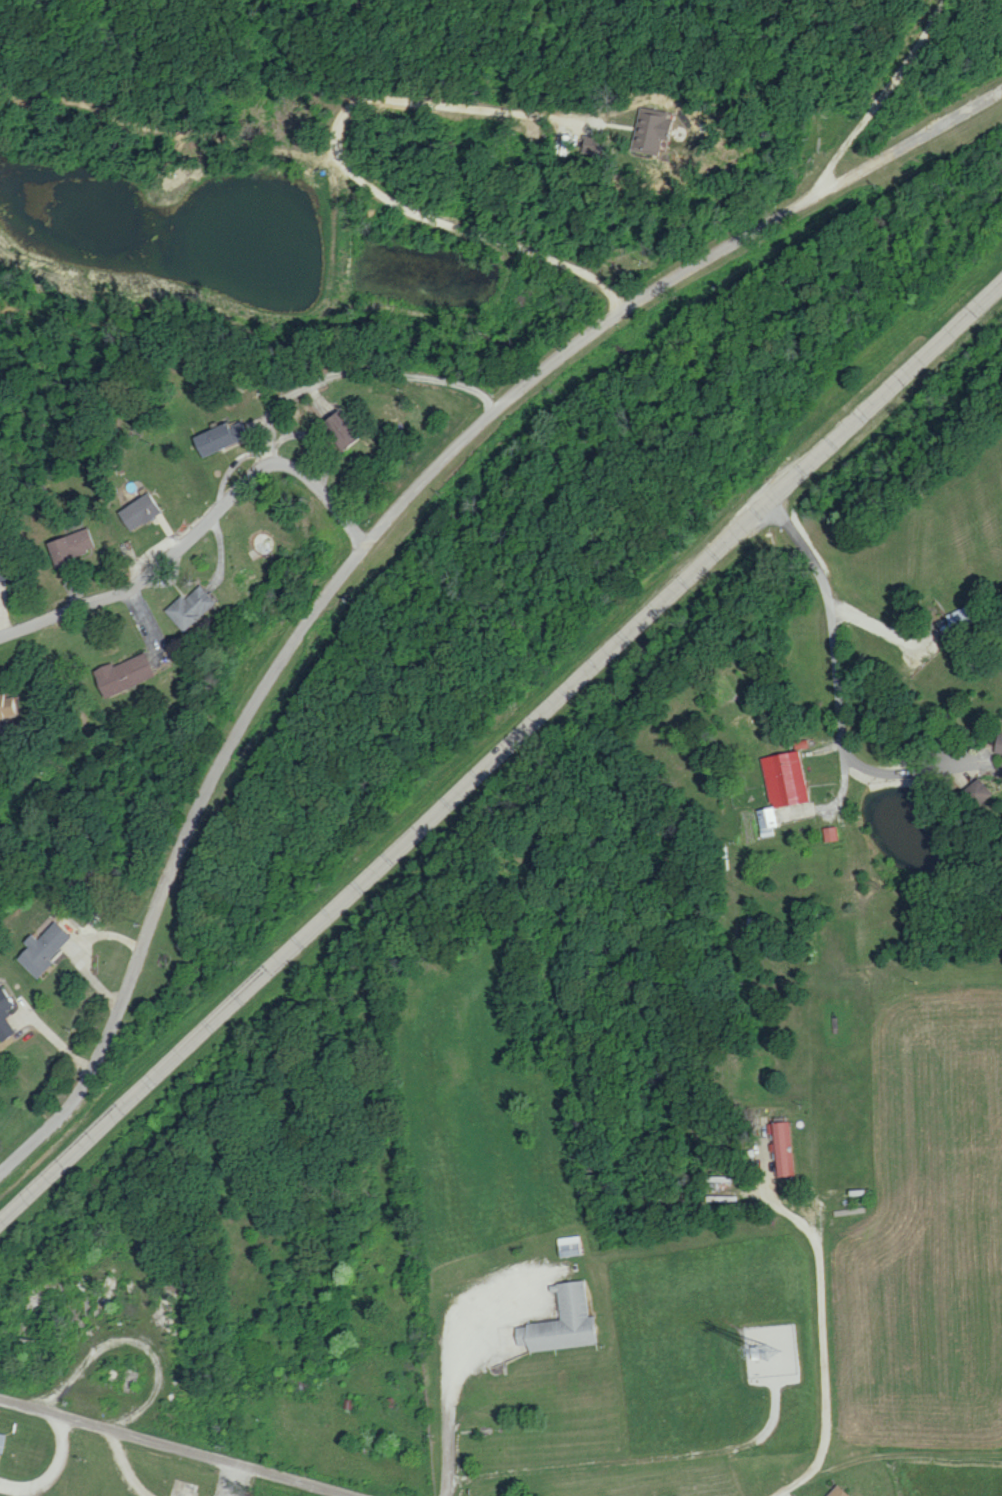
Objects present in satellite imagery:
building: (650, 130)
building: (591, 143)
road: (741, 240)
building: (338, 429)
building: (211, 439)
road: (427, 477)
road: (248, 486)
road: (326, 500)
building: (136, 511)
building: (66, 546)
building: (3, 569)
road: (828, 601)
building: (189, 608)
building: (122, 674)
building: (9, 706)
road: (842, 742)
building: (998, 743)
road: (498, 752)
building: (779, 788)
building: (977, 792)
building: (830, 833)
road: (178, 862)
road: (609, 914)
building: (40, 949)
building: (4, 1015)
building: (782, 1148)
building: (568, 1245)
road: (822, 1294)
building: (560, 1321)
road: (135, 1326)
road: (455, 1397)
building: (1, 1441)
road: (173, 1448)
road: (55, 1474)
road: (806, 1482)
building: (837, 1492)

